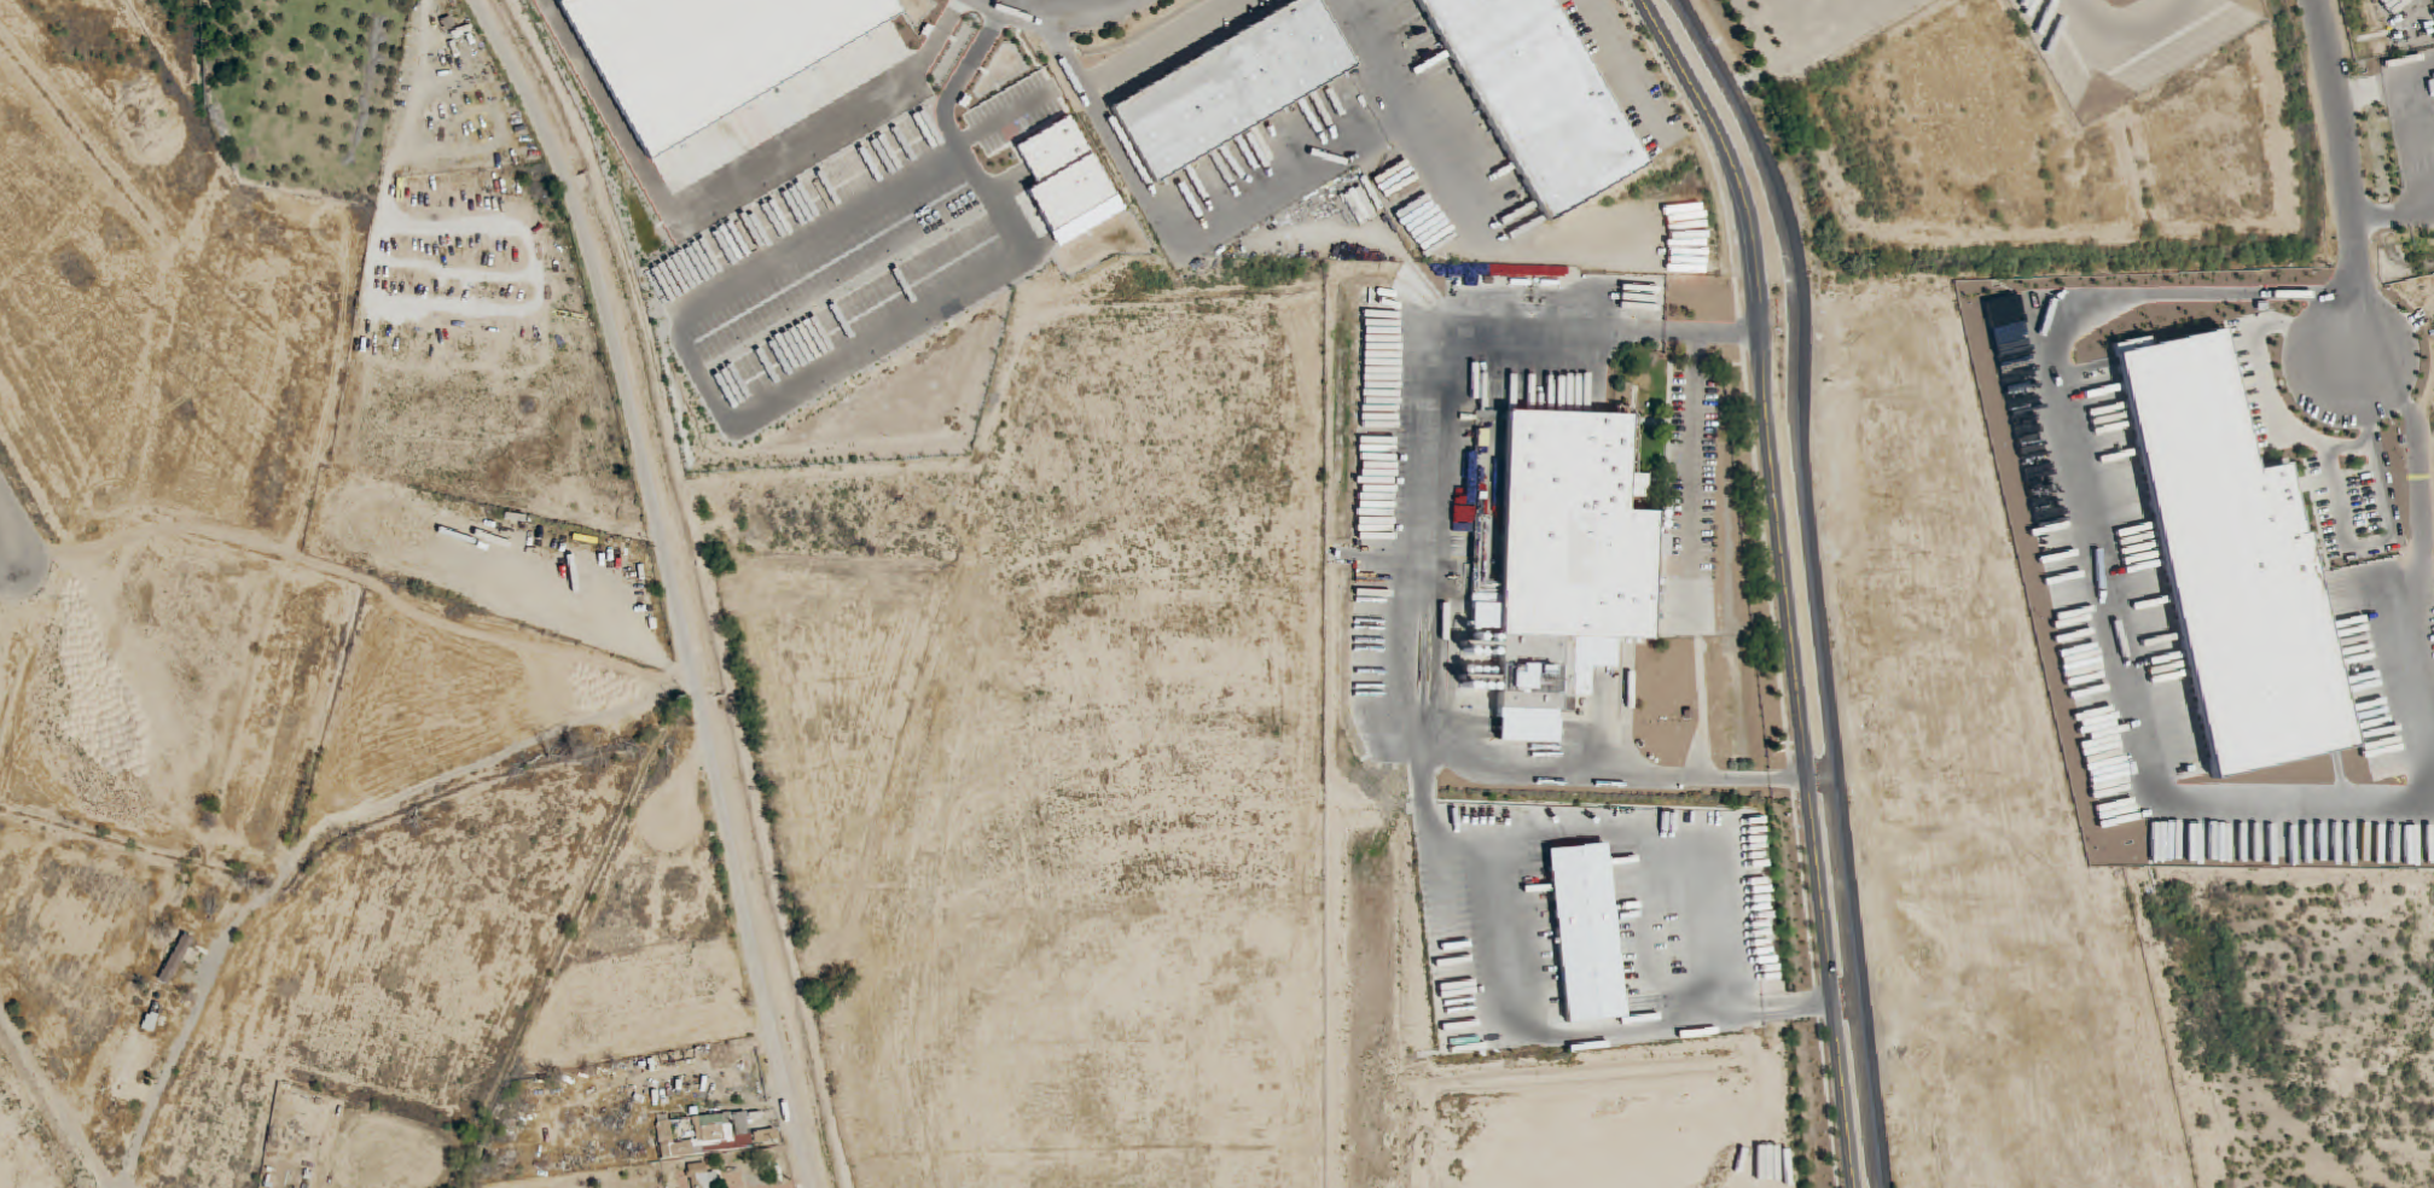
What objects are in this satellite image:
road: (1108, 2)
road: (1064, 11)
road: (980, 56)
building: (1232, 86)
building: (1537, 97)
road: (1423, 110)
road: (2349, 181)
road: (1164, 228)
road: (2429, 535)
road: (12, 537)
road: (2097, 551)
building: (1565, 560)
road: (1421, 578)
road: (1785, 581)
road: (1811, 581)
road: (673, 583)
road: (316, 833)
building: (176, 960)
building: (151, 1020)
road: (1521, 1030)
building: (130, 1062)
building: (716, 1136)
building: (633, 1148)
building: (702, 1176)

